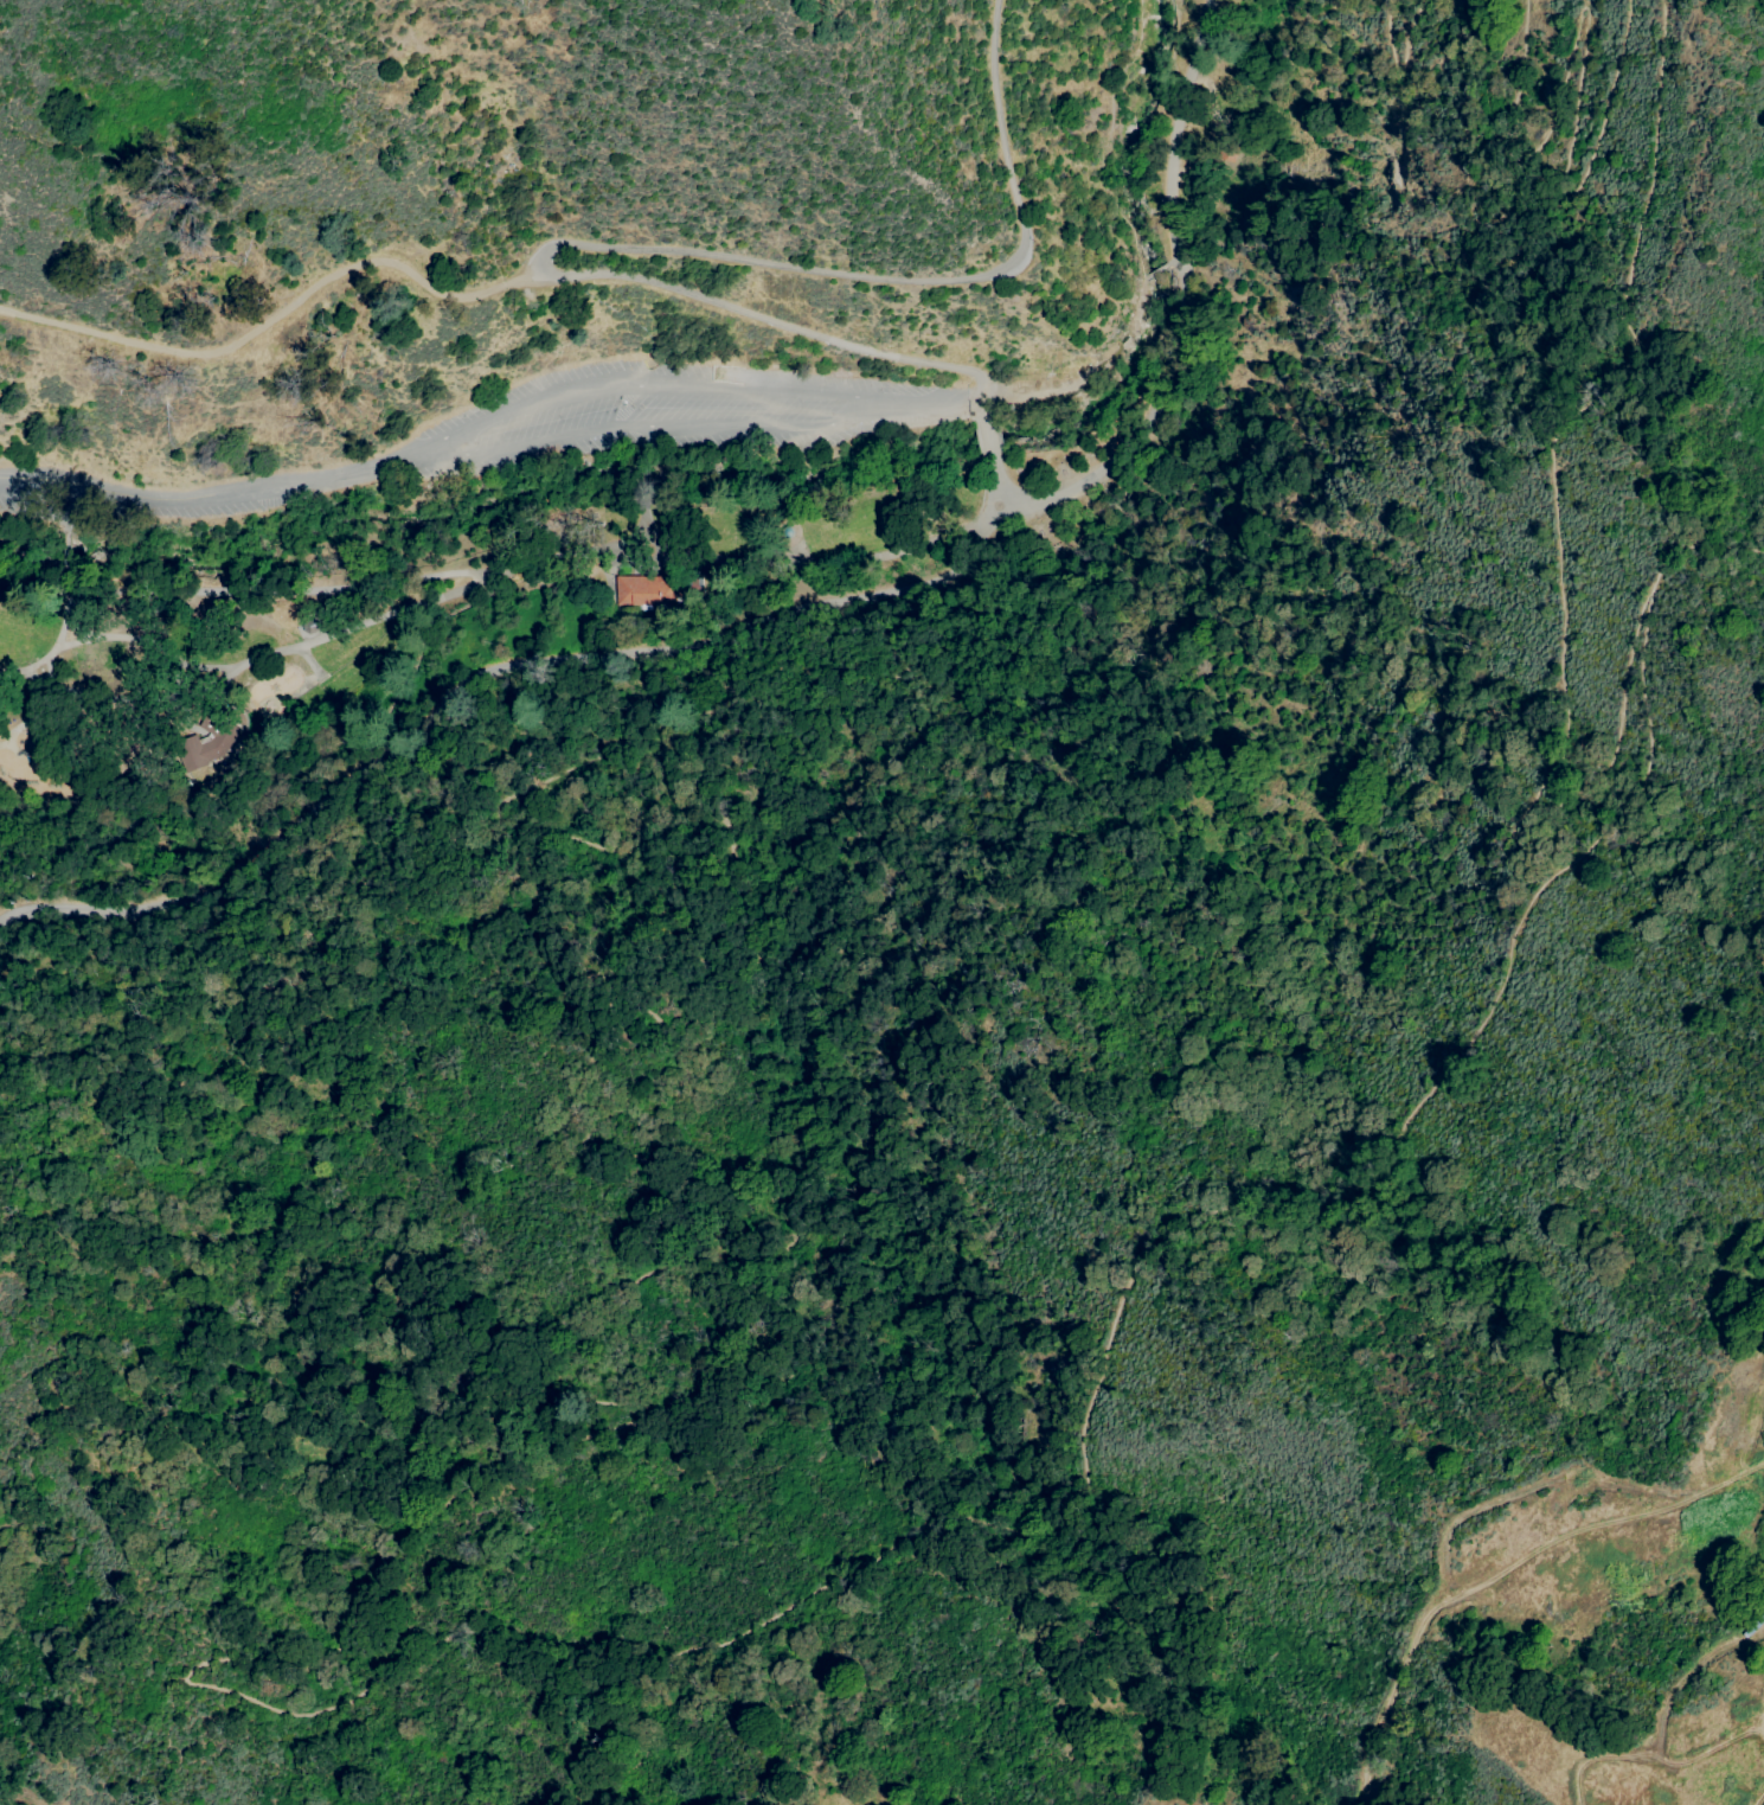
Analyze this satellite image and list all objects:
road: (1404, 58)
road: (1567, 109)
road: (1115, 139)
road: (1168, 270)
road: (1154, 273)
road: (1173, 282)
road: (902, 288)
road: (277, 315)
road: (780, 319)
road: (1101, 367)
road: (635, 382)
road: (949, 398)
road: (1001, 410)
road: (642, 425)
road: (646, 446)
road: (1009, 446)
parking lot: (509, 447)
road: (647, 481)
road: (1024, 487)
road: (193, 500)
road: (64, 513)
road: (1006, 518)
road: (646, 521)
building: (788, 532)
road: (70, 553)
road: (1704, 553)
road: (1560, 561)
road: (493, 565)
road: (73, 577)
building: (692, 585)
building: (647, 590)
building: (314, 625)
road: (855, 664)
road: (243, 665)
road: (473, 681)
park: (53, 704)
road: (570, 713)
building: (206, 743)
park: (870, 850)
road: (274, 954)
road: (209, 1662)

